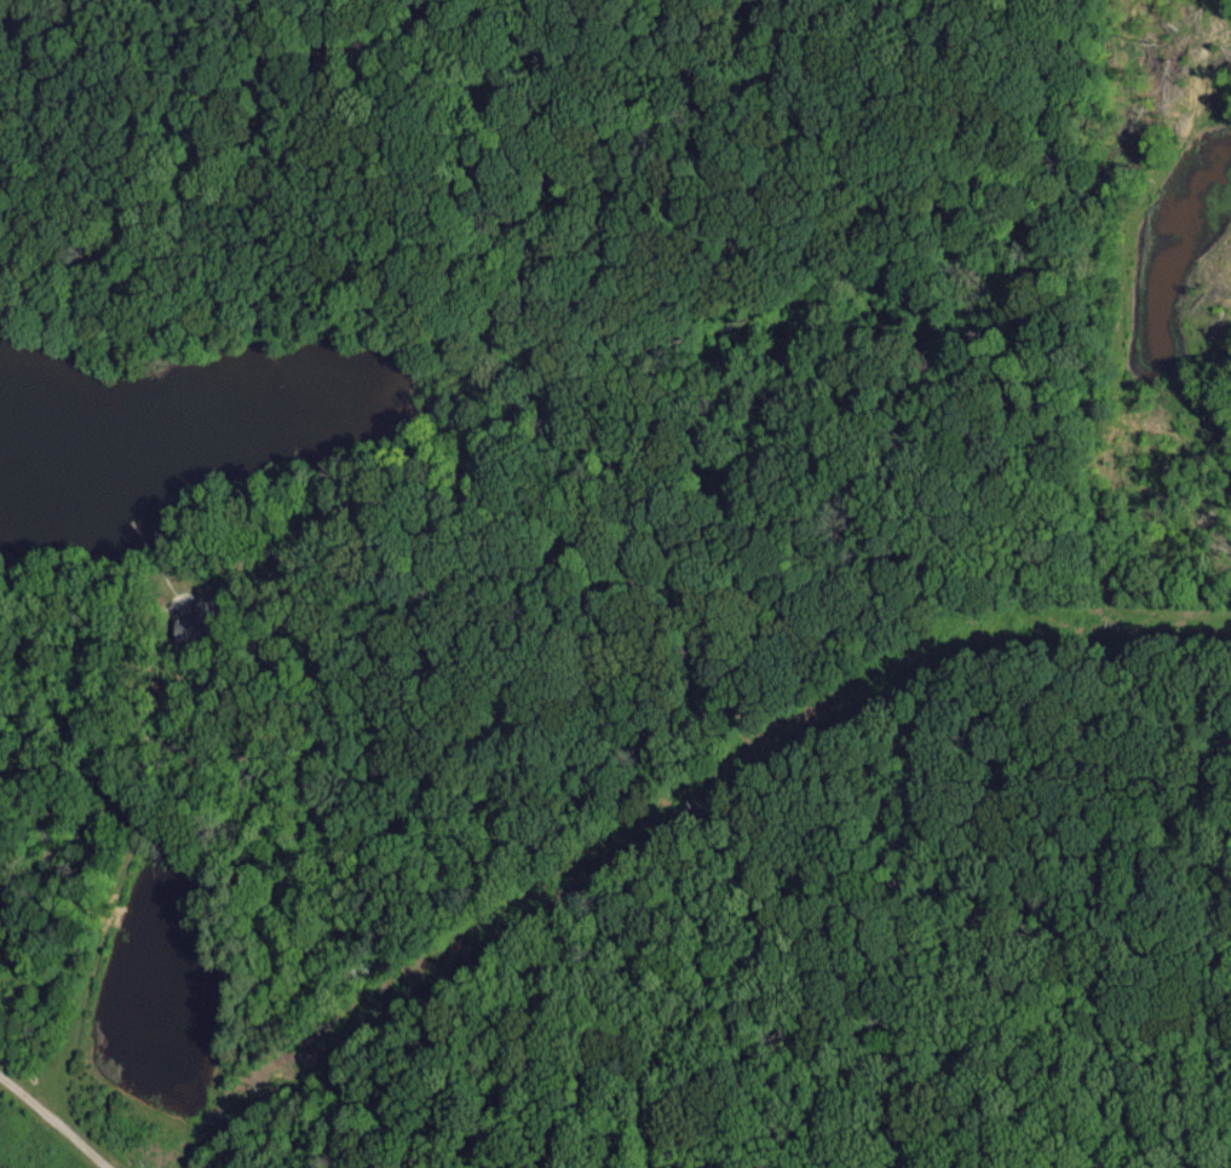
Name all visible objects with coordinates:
road: (35, 799)

